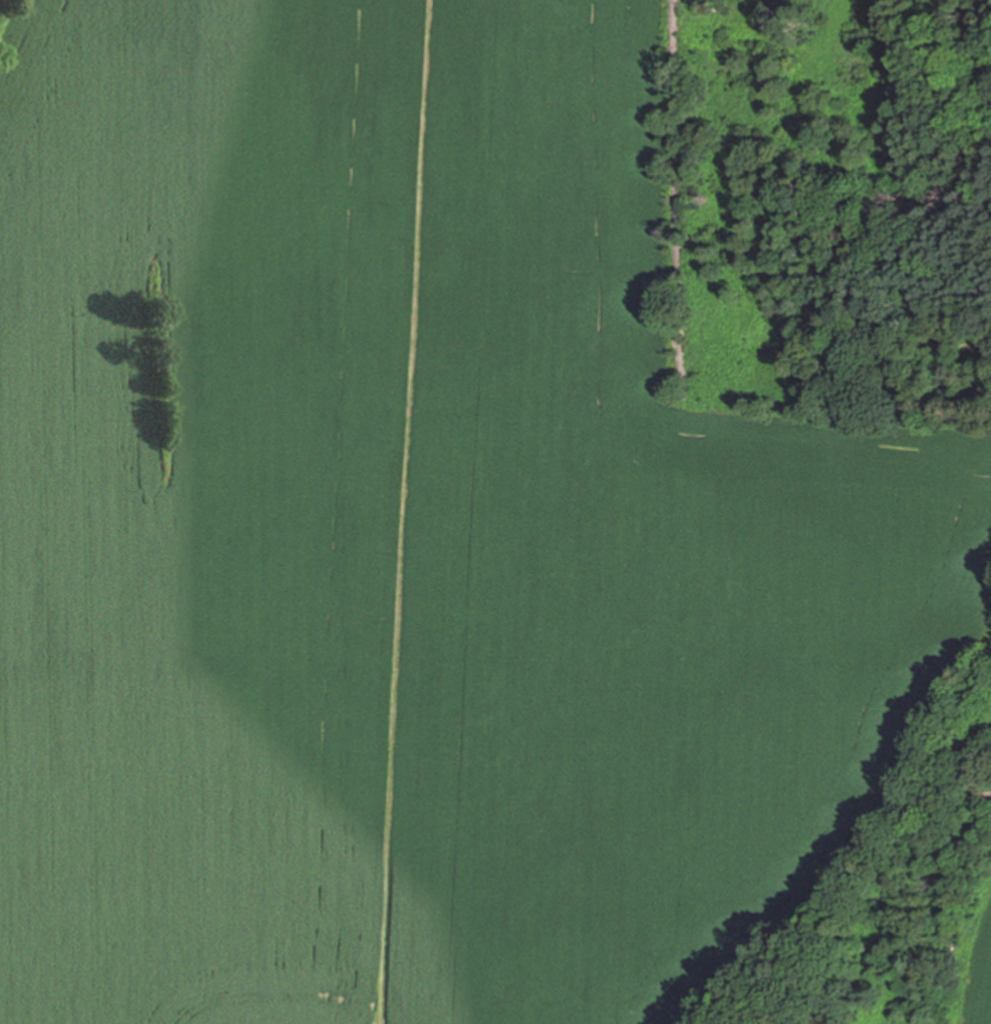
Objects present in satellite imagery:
crop: (336, 509)

